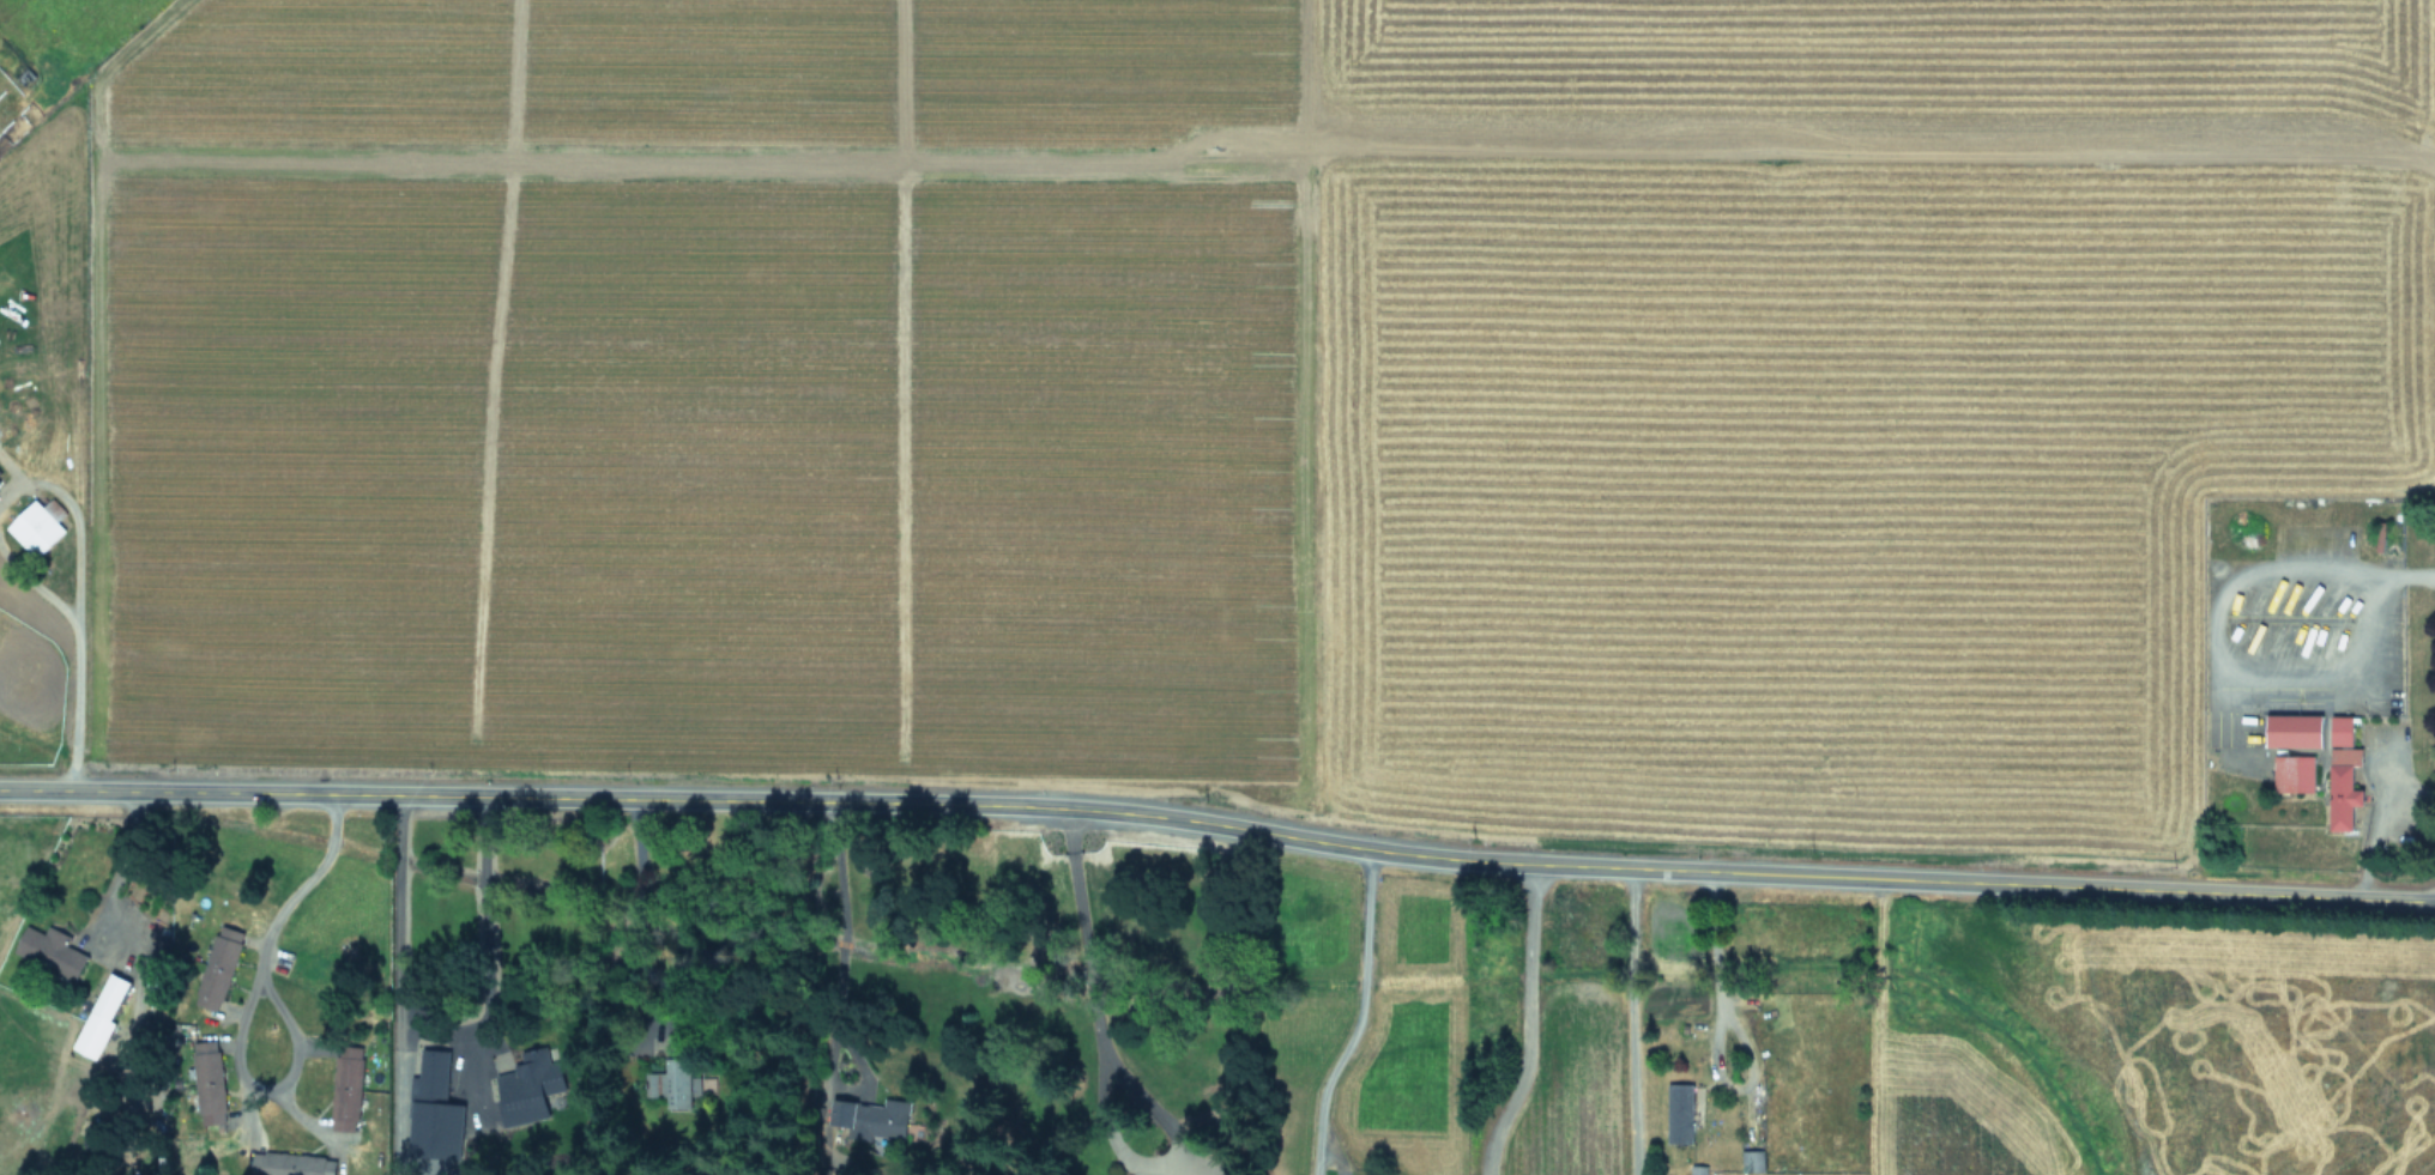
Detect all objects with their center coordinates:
crop: (1288, 380)
road: (71, 521)
building: (38, 528)
road: (34, 581)
road: (71, 704)
building: (2297, 733)
building: (2296, 776)
building: (2345, 776)
road: (2375, 824)
road: (1217, 828)
road: (121, 858)
road: (300, 890)
road: (478, 916)
road: (395, 921)
road: (842, 928)
building: (50, 955)
road: (1705, 956)
building: (219, 970)
road: (1080, 971)
road: (1359, 1017)
building: (103, 1018)
road: (1637, 1022)
road: (1531, 1023)
building: (678, 1078)
crop: (1153, 1079)
building: (434, 1082)
building: (209, 1085)
building: (346, 1089)
building: (527, 1091)
road: (270, 1094)
building: (1680, 1116)
building: (874, 1122)
building: (1753, 1163)
building: (291, 1165)
building: (1699, 1171)

